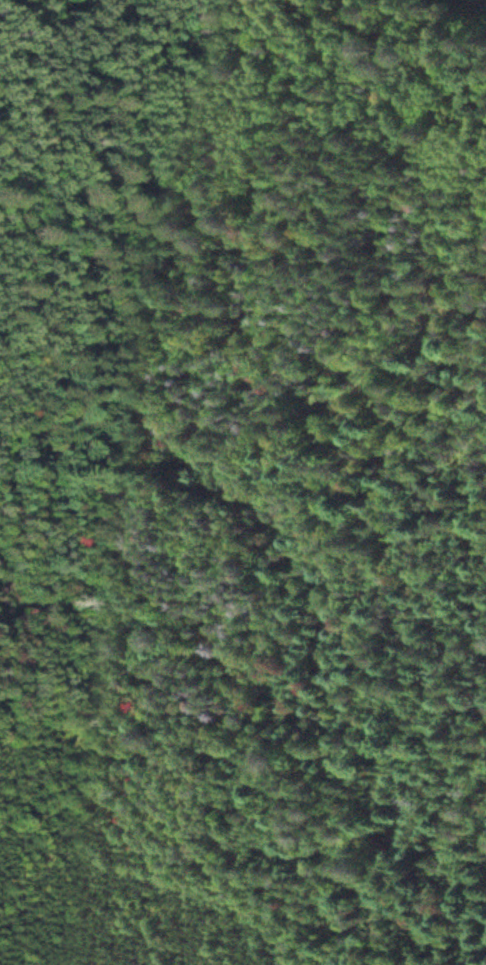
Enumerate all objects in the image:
road: (426, 55)

